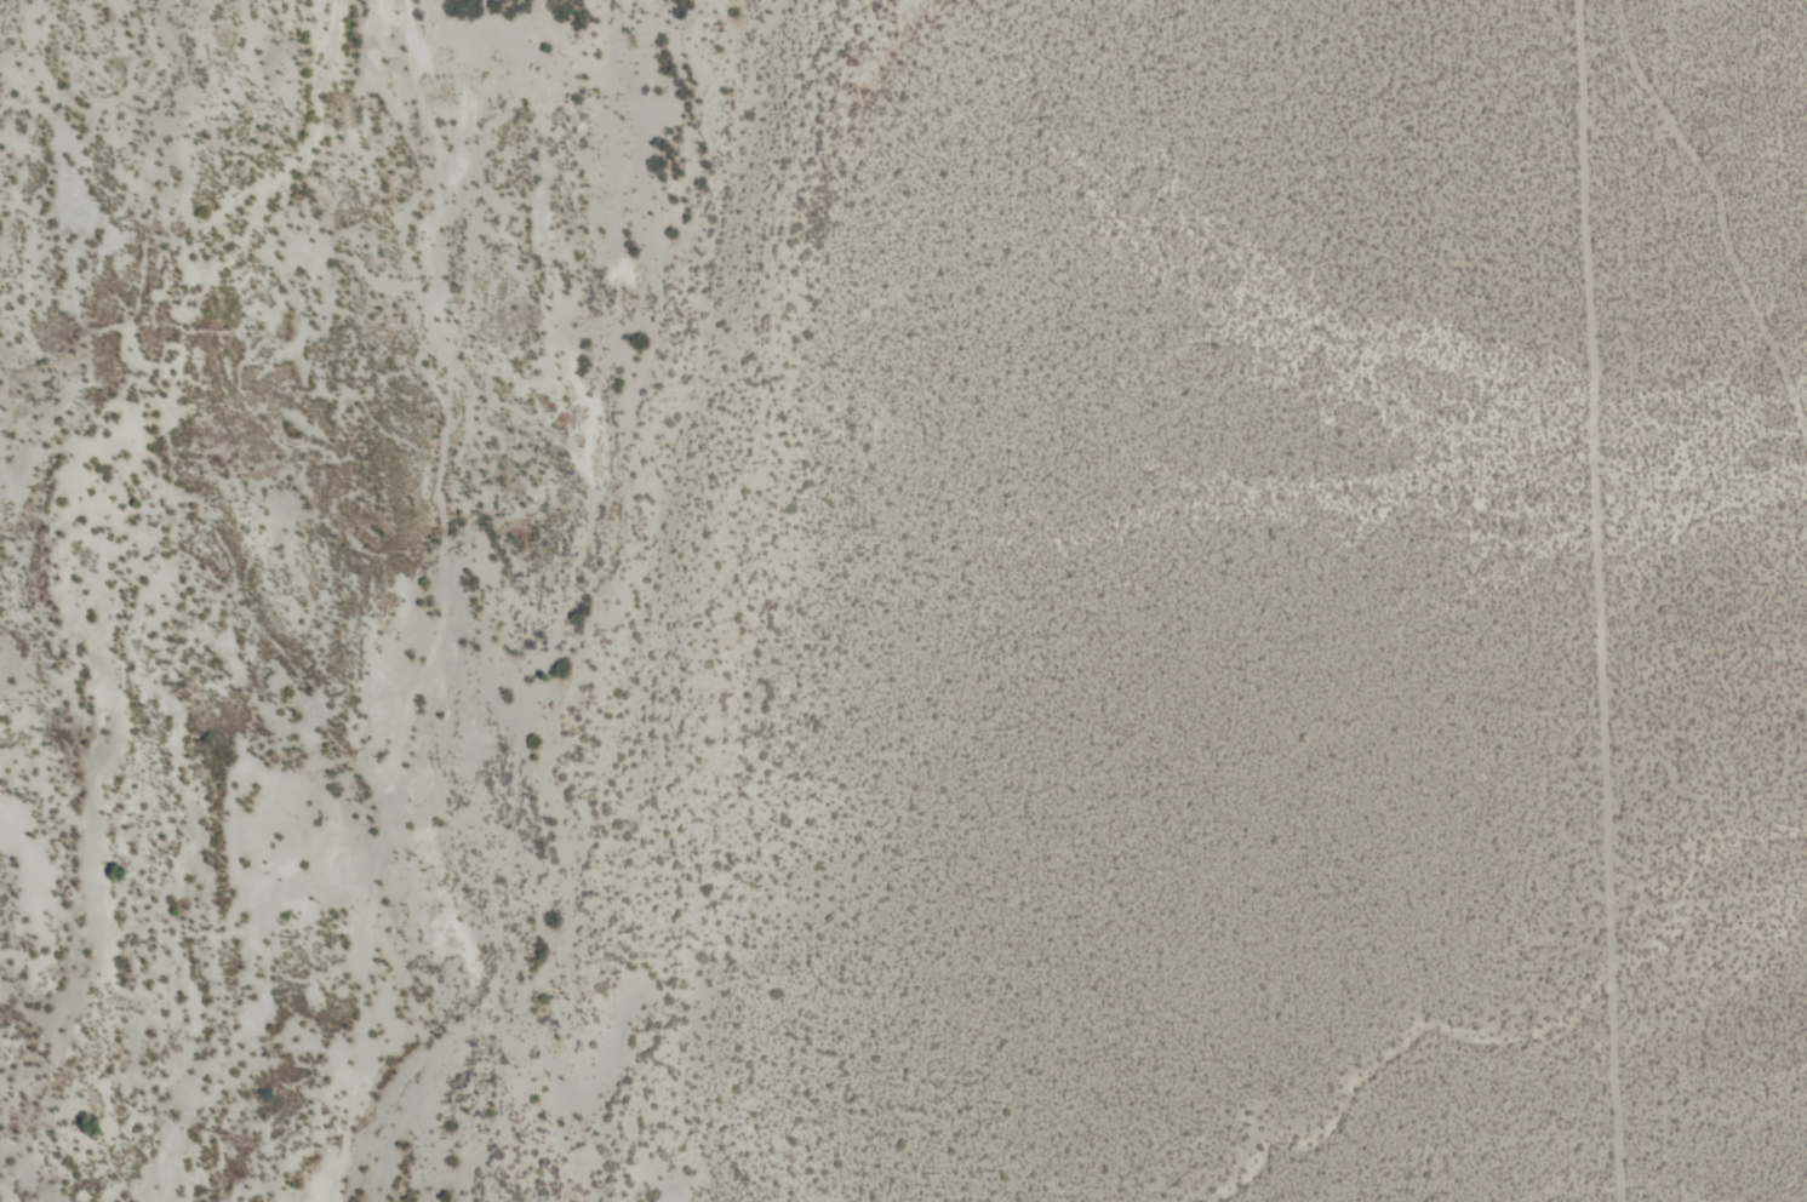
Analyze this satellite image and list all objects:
road: (1725, 204)
road: (1602, 601)

